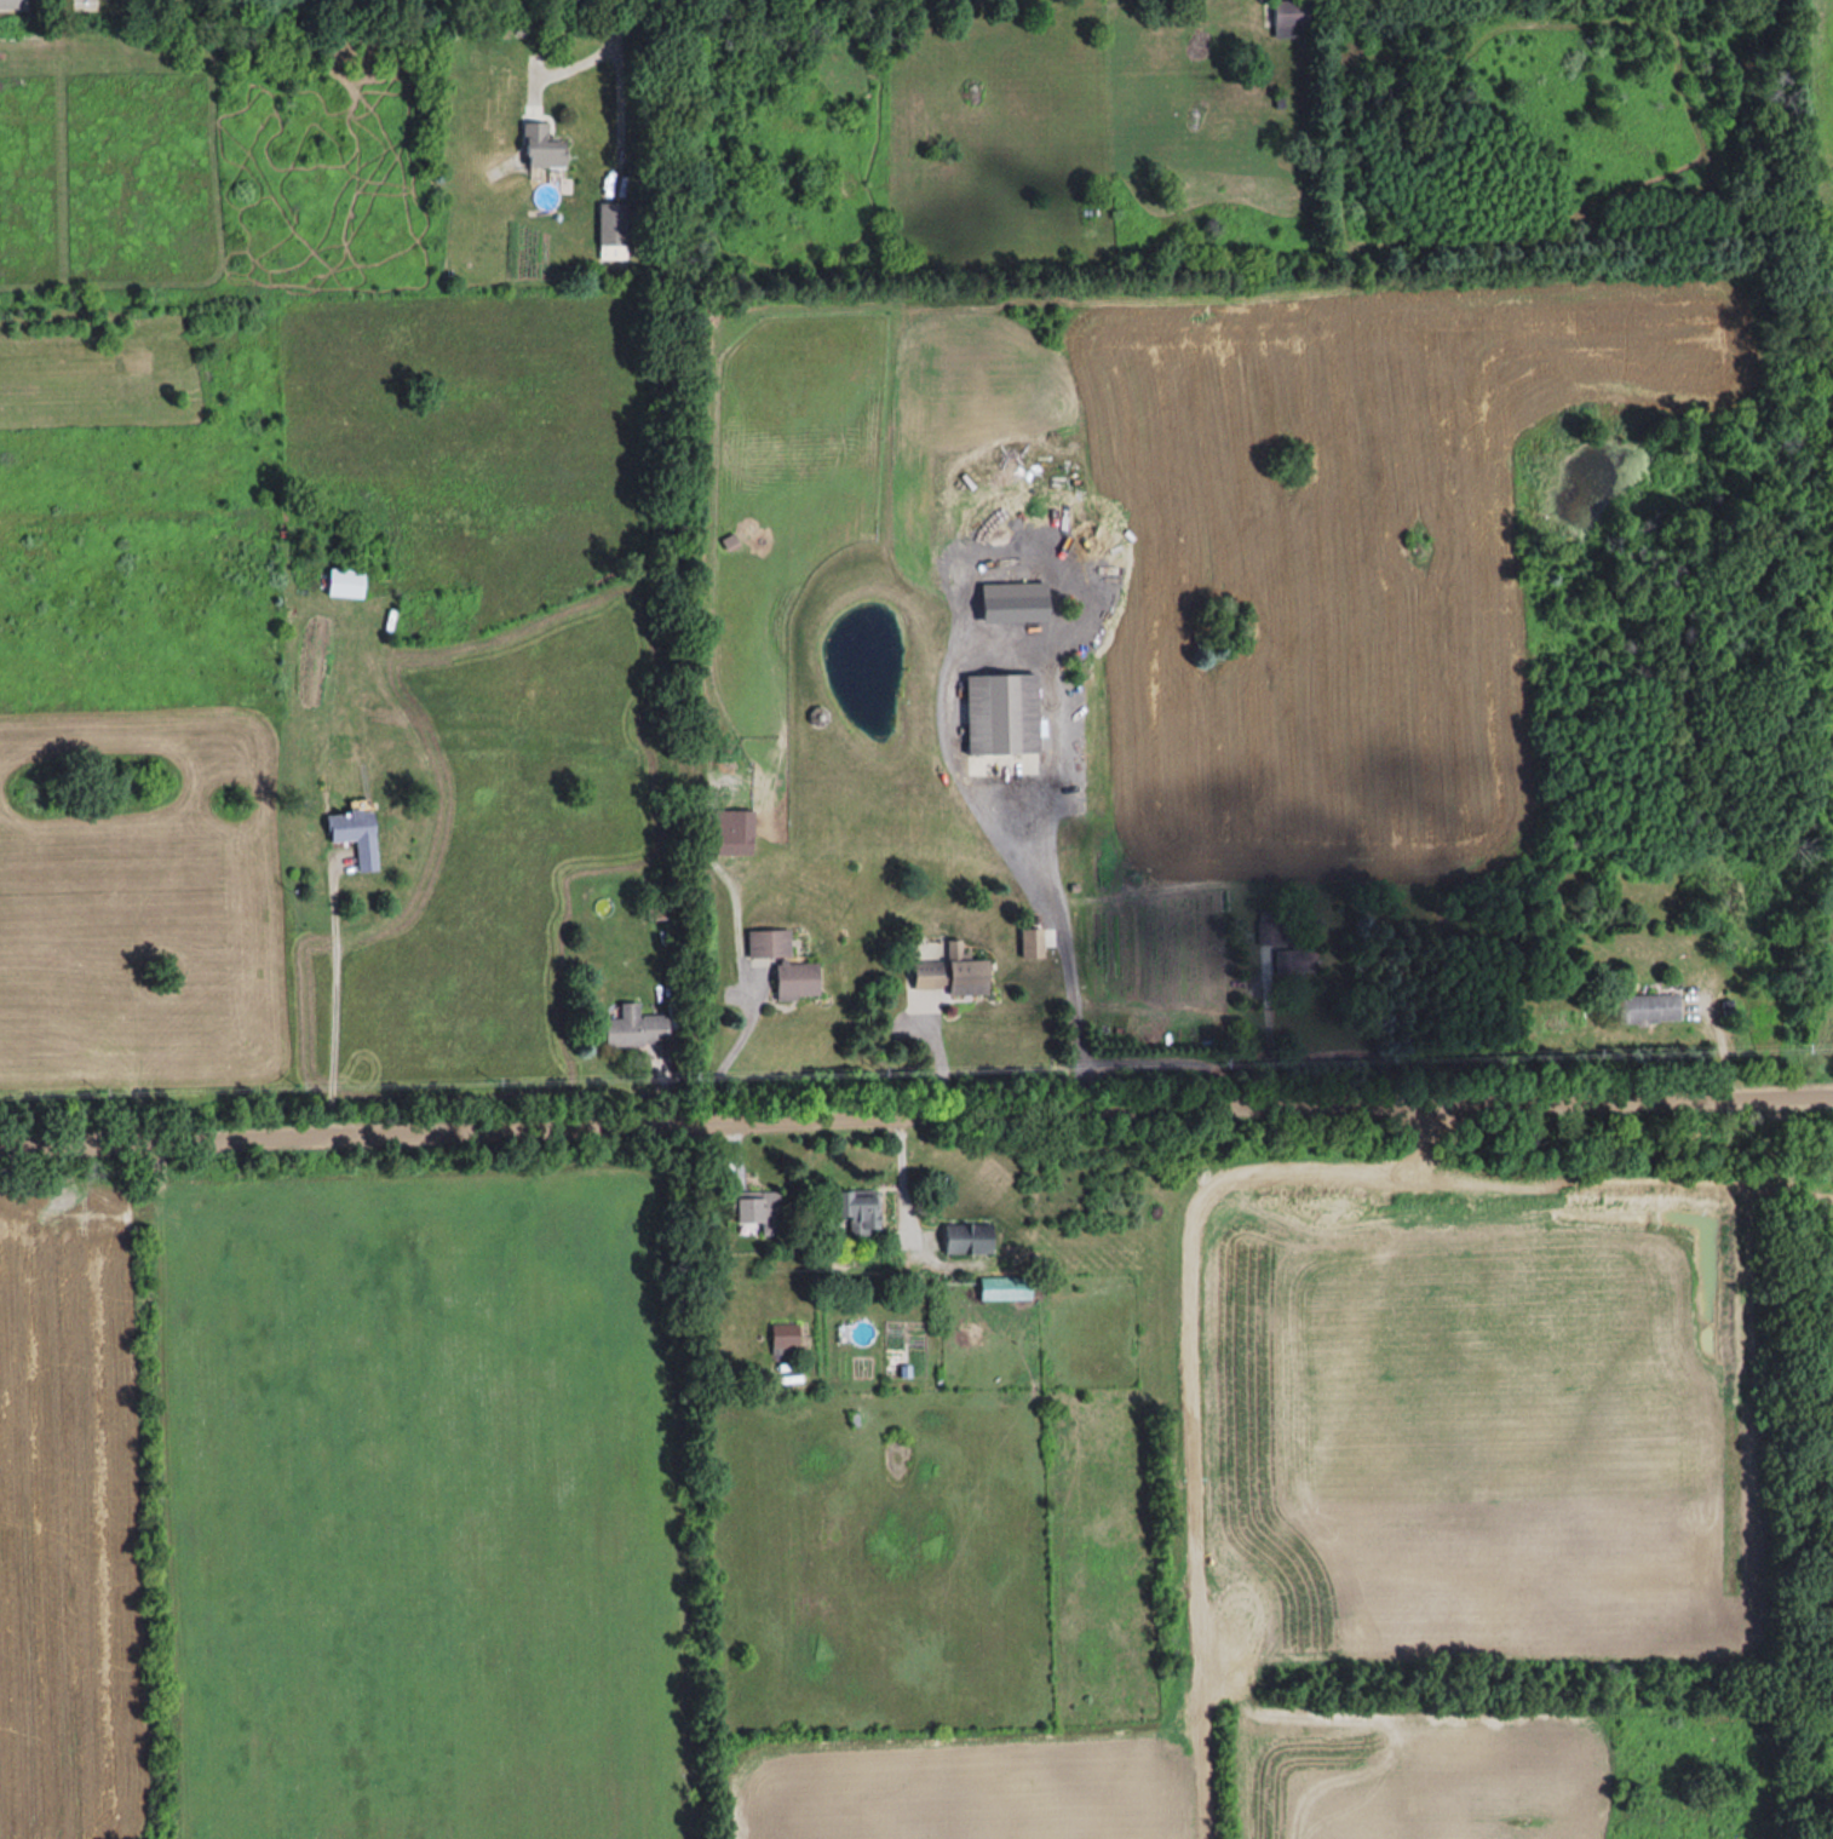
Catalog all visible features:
building: (13, 4)
building: (1288, 12)
road: (598, 50)
road: (620, 115)
building: (545, 146)
building: (615, 226)
building: (347, 584)
building: (996, 712)
road: (1057, 745)
building: (729, 829)
building: (358, 833)
building: (1268, 932)
building: (1028, 941)
building: (764, 942)
building: (1292, 960)
building: (947, 971)
building: (792, 979)
road: (333, 998)
building: (1644, 1006)
building: (632, 1027)
road: (1269, 1039)
road: (728, 1050)
road: (940, 1051)
road: (915, 1115)
building: (751, 1208)
building: (854, 1209)
building: (963, 1237)
building: (1000, 1288)
building: (781, 1337)

